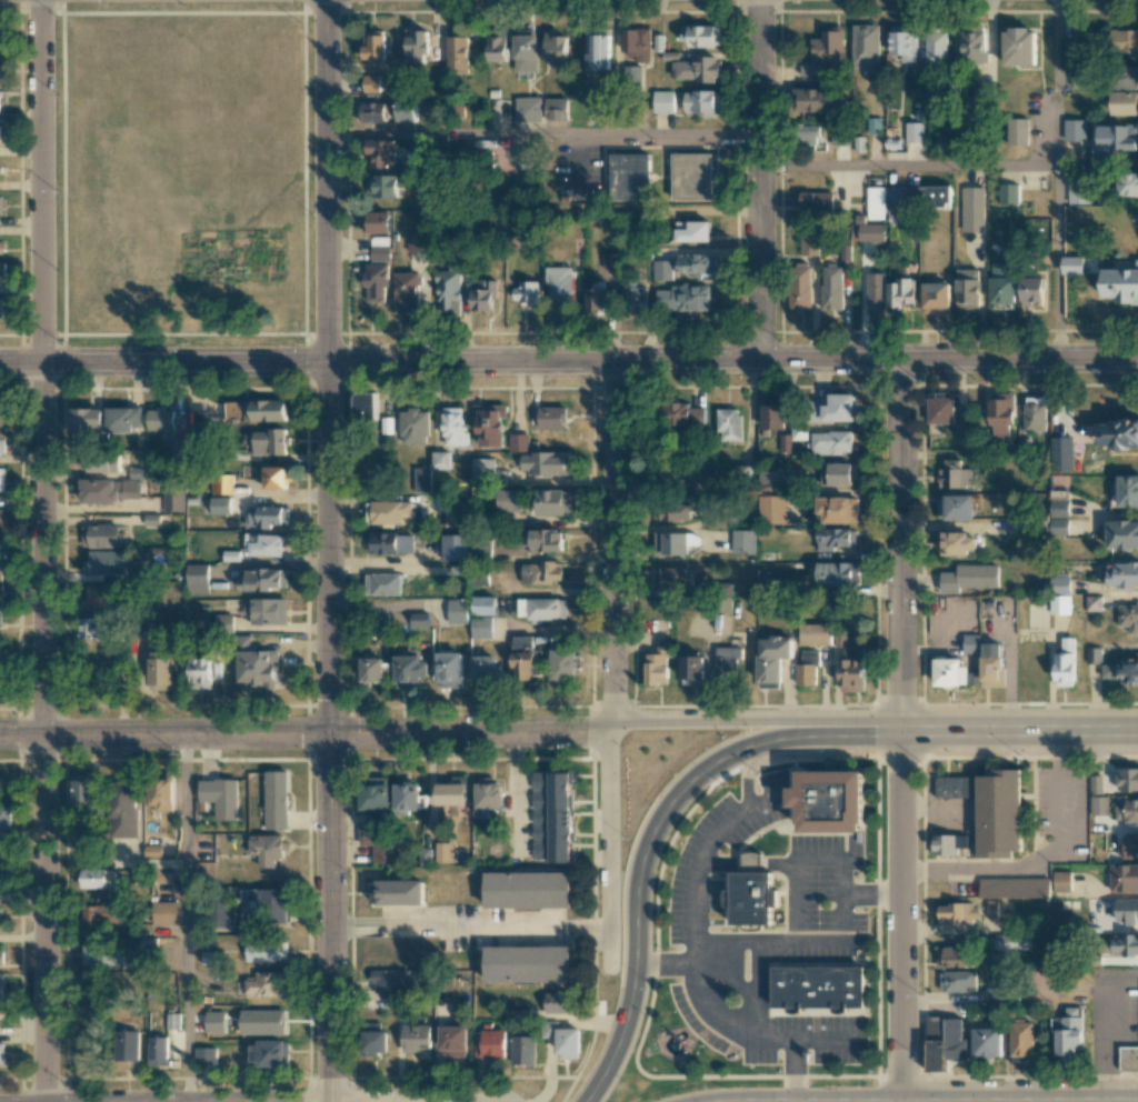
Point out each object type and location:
building: (2, 34)
building: (700, 36)
building: (1124, 41)
building: (373, 44)
building: (497, 44)
building: (636, 44)
building: (972, 44)
building: (417, 46)
building: (902, 46)
building: (556, 47)
building: (828, 47)
building: (865, 47)
building: (1019, 47)
building: (936, 48)
building: (526, 50)
building: (598, 51)
building: (1071, 51)
building: (457, 53)
building: (696, 69)
building: (1, 70)
building: (809, 70)
building: (1127, 78)
building: (370, 82)
road: (1056, 83)
building: (981, 92)
building: (812, 100)
building: (662, 101)
building: (701, 101)
building: (1125, 102)
building: (406, 109)
building: (528, 109)
building: (556, 109)
building: (372, 111)
building: (874, 126)
building: (1075, 130)
building: (914, 131)
building: (1017, 131)
road: (543, 133)
building: (808, 136)
building: (1115, 139)
building: (380, 152)
road: (909, 167)
park: (181, 172)
building: (691, 176)
building: (629, 177)
road: (761, 179)
road: (41, 181)
road: (327, 181)
building: (1125, 184)
building: (382, 186)
building: (1076, 190)
building: (1008, 193)
building: (905, 196)
building: (935, 196)
building: (816, 202)
building: (875, 202)
building: (1, 206)
building: (972, 209)
road: (660, 211)
building: (376, 221)
building: (692, 231)
building: (869, 231)
building: (417, 241)
building: (809, 242)
building: (0, 243)
building: (380, 248)
building: (610, 260)
building: (695, 262)
road: (1057, 262)
building: (1072, 264)
building: (2, 269)
building: (662, 269)
building: (376, 282)
building: (1002, 282)
building: (561, 284)
building: (1121, 284)
building: (831, 287)
building: (800, 288)
building: (967, 288)
building: (448, 289)
building: (407, 291)
building: (1031, 291)
building: (526, 292)
building: (876, 292)
building: (901, 292)
building: (482, 293)
building: (599, 298)
building: (635, 298)
building: (683, 298)
building: (936, 298)
building: (1, 308)
road: (569, 362)
building: (365, 405)
building: (941, 408)
building: (833, 409)
building: (233, 410)
building: (264, 410)
building: (772, 413)
building: (1001, 413)
building: (1034, 413)
building: (683, 414)
building: (548, 415)
building: (2, 417)
building: (124, 419)
building: (87, 420)
building: (489, 424)
building: (728, 424)
building: (413, 425)
building: (453, 427)
building: (166, 429)
building: (1118, 433)
building: (791, 438)
building: (270, 441)
building: (517, 442)
building: (831, 442)
building: (2, 445)
building: (1061, 453)
building: (440, 460)
building: (100, 462)
building: (545, 463)
building: (482, 469)
building: (838, 473)
building: (955, 473)
building: (276, 477)
building: (1, 478)
building: (421, 479)
building: (770, 480)
building: (222, 483)
building: (110, 490)
building: (1128, 490)
building: (173, 500)
building: (509, 500)
building: (553, 502)
building: (220, 504)
building: (956, 507)
building: (771, 509)
building: (837, 509)
building: (672, 510)
building: (390, 511)
building: (266, 515)
building: (453, 515)
building: (1059, 515)
building: (2, 518)
building: (1121, 534)
building: (101, 535)
building: (835, 538)
building: (546, 541)
building: (743, 541)
building: (390, 542)
building: (675, 542)
building: (958, 543)
building: (267, 544)
building: (455, 547)
road: (328, 549)
building: (1, 550)
building: (106, 562)
building: (541, 572)
building: (837, 573)
building: (1119, 574)
building: (197, 578)
building: (969, 578)
building: (262, 579)
building: (670, 579)
building: (1, 581)
building: (382, 583)
building: (1060, 583)
building: (101, 595)
building: (1094, 603)
building: (485, 604)
building: (1060, 604)
building: (542, 609)
building: (268, 611)
building: (457, 611)
building: (1, 612)
building: (419, 619)
building: (1129, 619)
building: (481, 627)
building: (94, 628)
building: (815, 633)
building: (840, 638)
building: (971, 643)
building: (0, 650)
building: (1094, 655)
building: (810, 658)
building: (525, 659)
building: (727, 659)
building: (772, 660)
building: (1065, 663)
building: (563, 664)
building: (992, 664)
road: (613, 665)
building: (658, 665)
building: (258, 669)
building: (372, 669)
building: (487, 669)
building: (410, 670)
building: (450, 670)
building: (852, 670)
building: (1121, 671)
building: (200, 672)
building: (950, 672)
building: (161, 673)
building: (806, 674)
road: (755, 720)
road: (900, 730)
road: (1019, 730)
road: (43, 732)
road: (305, 734)
road: (746, 779)
building: (1127, 779)
building: (1096, 784)
building: (955, 787)
building: (84, 790)
building: (375, 792)
building: (489, 793)
building: (451, 794)
building: (161, 795)
building: (220, 797)
building: (407, 797)
road: (516, 797)
building: (831, 798)
building: (276, 799)
building: (1099, 805)
building: (124, 809)
building: (1127, 810)
parking lot: (1060, 812)
building: (997, 813)
building: (4, 814)
building: (551, 817)
road: (655, 832)
building: (378, 842)
building: (948, 842)
building: (266, 846)
building: (1129, 846)
building: (0, 849)
building: (153, 851)
building: (442, 852)
parking lot: (718, 852)
road: (703, 858)
road: (1041, 862)
road: (747, 863)
building: (97, 878)
building: (1124, 878)
building: (0, 879)
building: (1061, 881)
road: (840, 882)
building: (1014, 886)
building: (528, 890)
building: (400, 892)
building: (751, 893)
road: (871, 894)
parking lot: (826, 900)
building: (270, 903)
building: (1127, 911)
building: (166, 913)
building: (219, 913)
building: (959, 913)
building: (98, 914)
building: (0, 918)
road: (186, 918)
road: (328, 918)
road: (443, 922)
building: (1010, 941)
road: (732, 943)
building: (1124, 945)
building: (266, 950)
building: (100, 954)
building: (1, 956)
building: (210, 956)
building: (954, 956)
building: (528, 962)
road: (703, 963)
building: (392, 980)
building: (956, 980)
building: (267, 984)
building: (818, 985)
building: (2, 986)
building: (558, 1002)
building: (92, 1006)
road: (709, 1011)
road: (1098, 1019)
building: (172, 1021)
building: (1068, 1031)
building: (417, 1039)
building: (563, 1039)
parking lot: (793, 1039)
building: (452, 1041)
road: (757, 1041)
building: (1021, 1041)
building: (375, 1042)
building: (945, 1042)
building: (987, 1042)
building: (489, 1043)
building: (128, 1045)
building: (522, 1050)
building: (158, 1051)
building: (1, 1052)
building: (269, 1054)
building: (206, 1055)
building: (1128, 1059)
road: (793, 1071)
road: (371, 1101)

